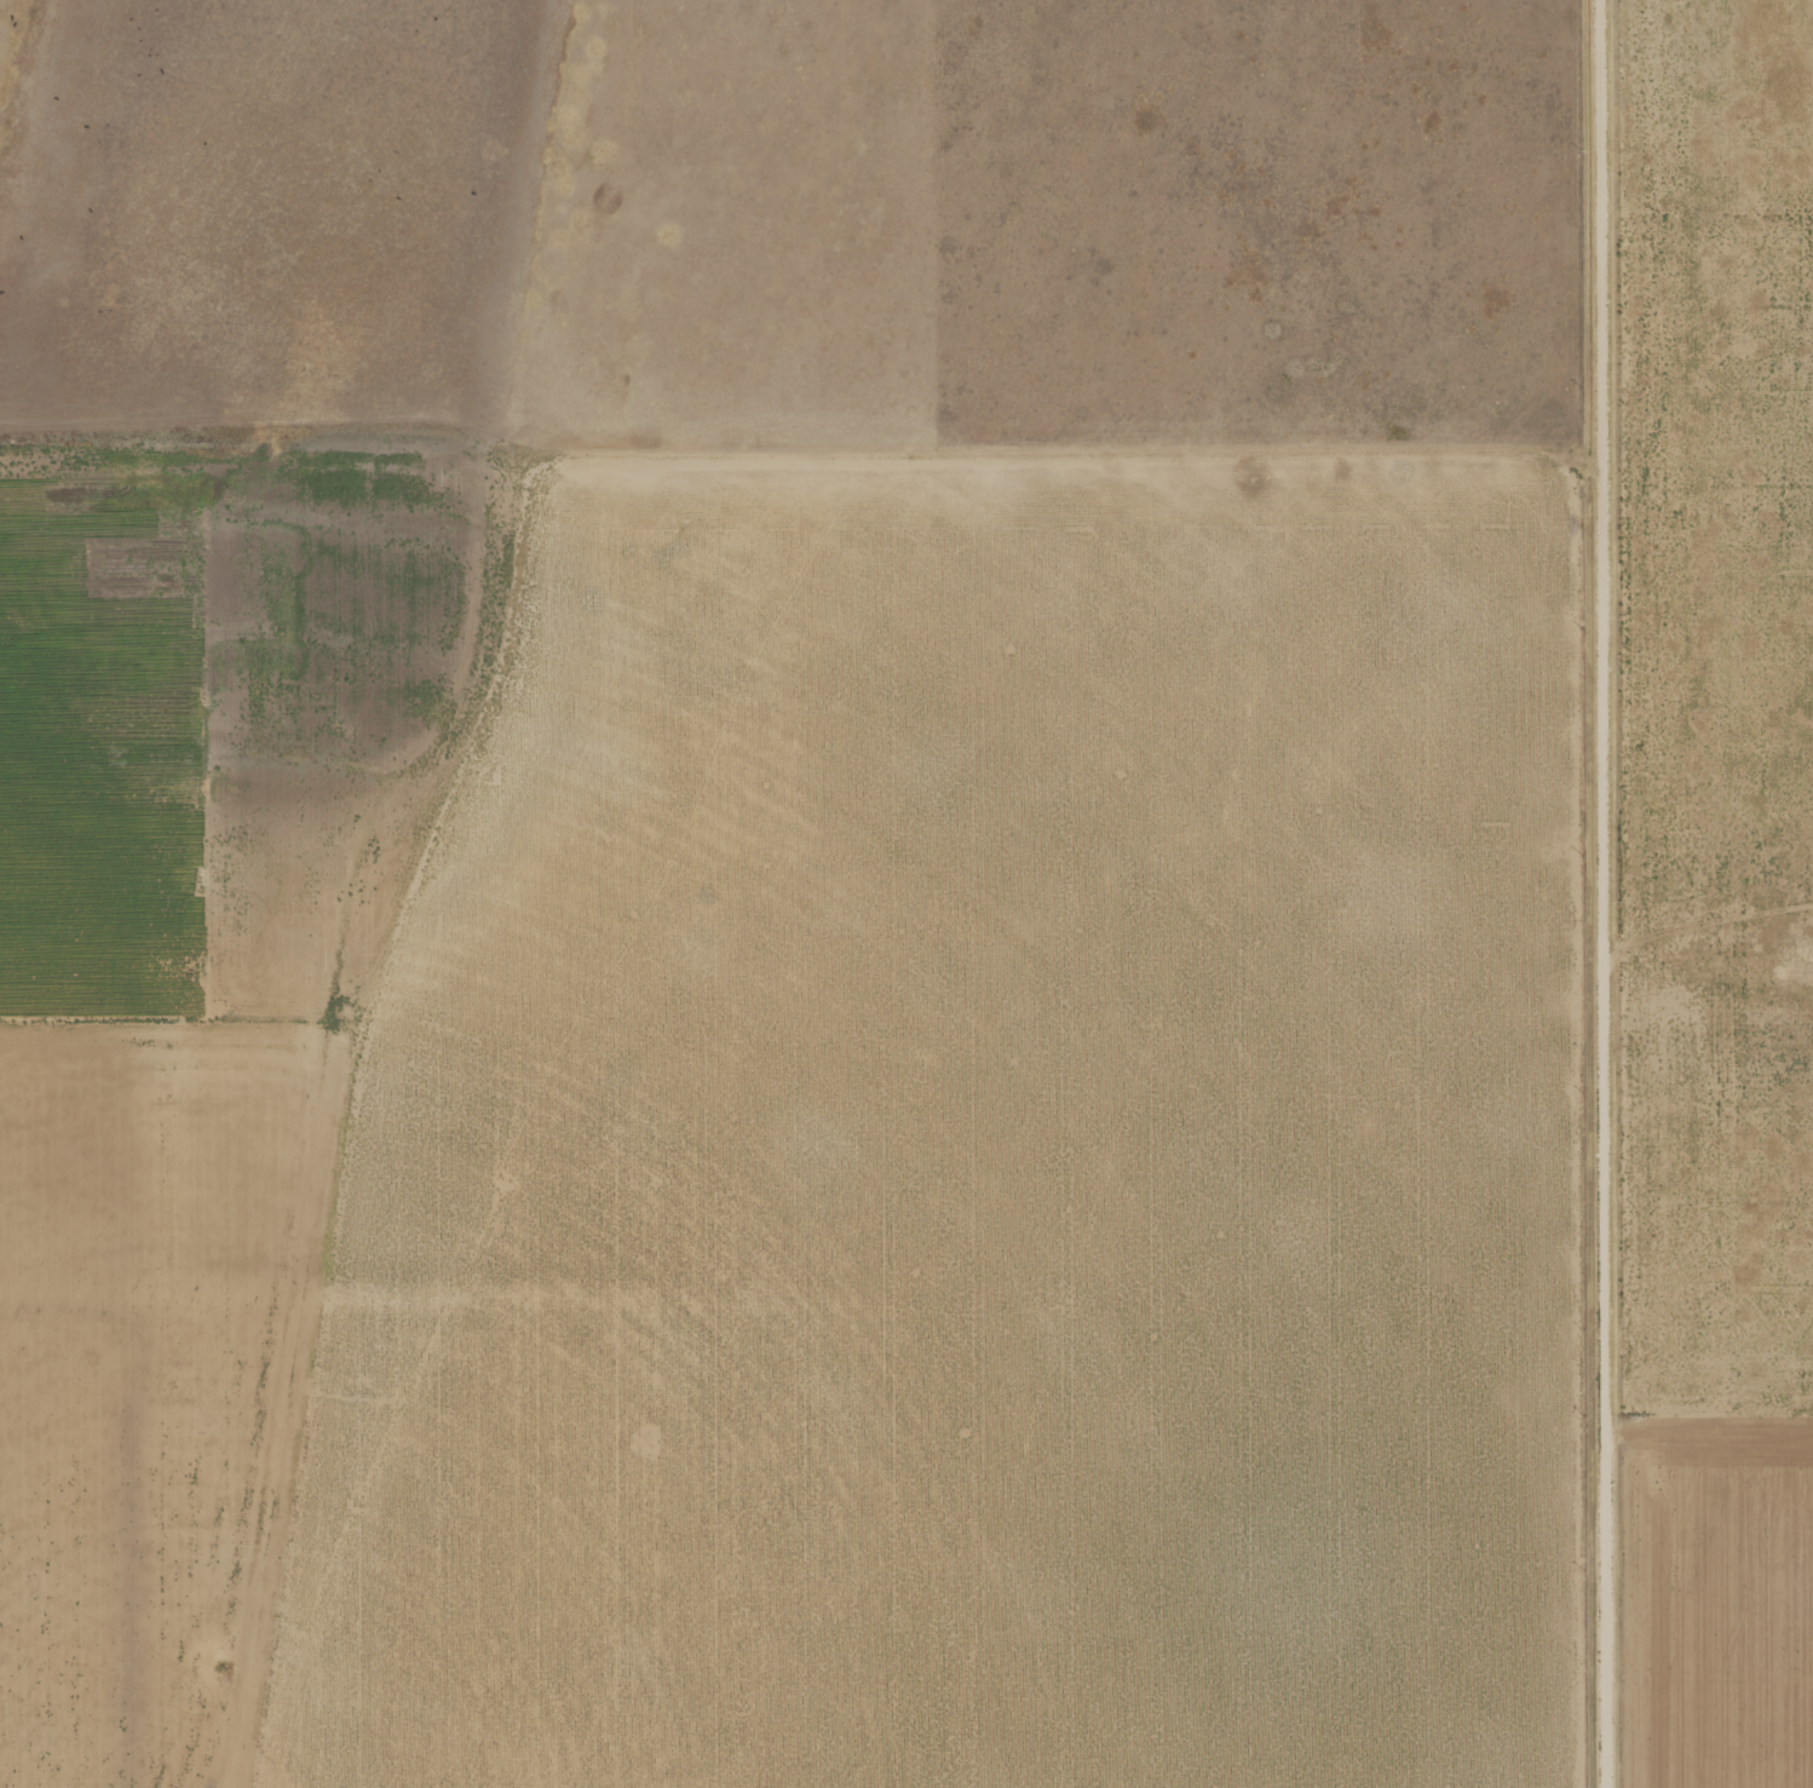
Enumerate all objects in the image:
road: (1584, 893)
road: (1698, 1362)

